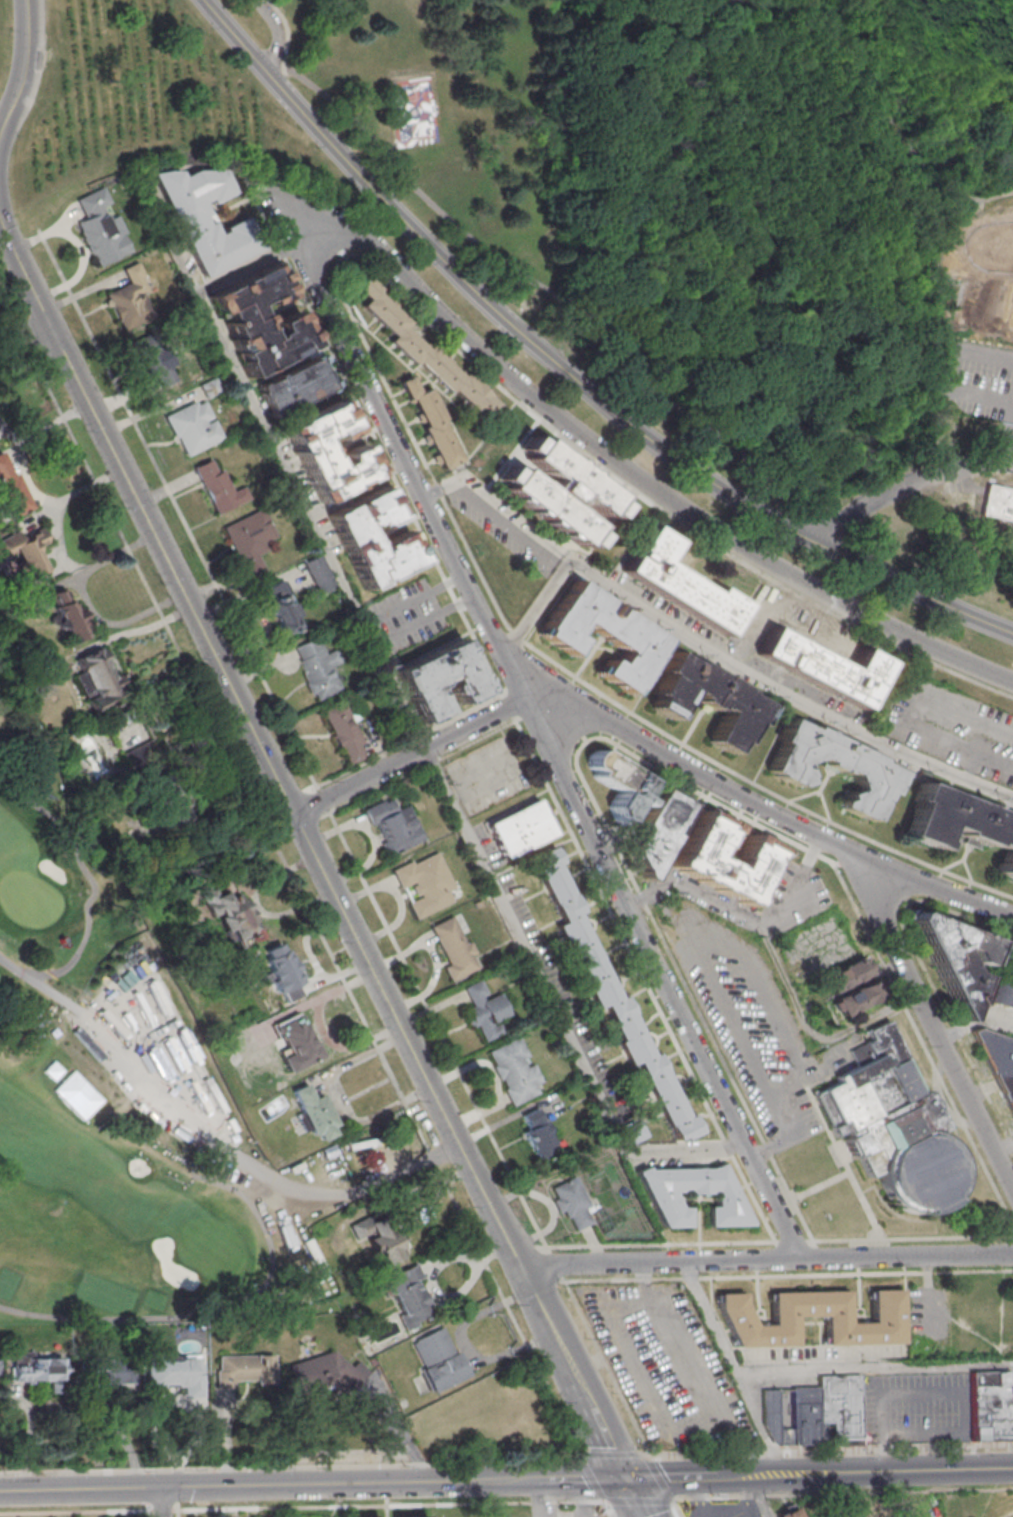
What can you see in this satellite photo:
road: (285, 30)
road: (277, 37)
road: (23, 67)
park: (414, 108)
road: (896, 126)
road: (364, 156)
building: (188, 224)
road: (0, 228)
park: (639, 228)
building: (99, 229)
road: (295, 246)
road: (77, 247)
road: (238, 272)
building: (129, 299)
road: (555, 308)
building: (257, 320)
road: (25, 330)
building: (658, 350)
building: (424, 354)
parking lot: (978, 356)
building: (153, 360)
road: (572, 366)
road: (565, 373)
road: (560, 377)
road: (491, 378)
building: (209, 388)
building: (293, 388)
building: (430, 424)
building: (191, 427)
road: (370, 432)
road: (1009, 441)
building: (307, 452)
parking lot: (1010, 460)
road: (281, 465)
road: (26, 478)
road: (903, 486)
road: (649, 487)
building: (218, 488)
road: (355, 489)
building: (10, 490)
building: (558, 492)
building: (998, 503)
road: (498, 505)
road: (147, 522)
parking lot: (502, 530)
building: (351, 539)
building: (249, 541)
road: (57, 545)
building: (26, 549)
building: (318, 575)
building: (677, 585)
road: (88, 601)
road: (411, 601)
building: (281, 608)
building: (67, 612)
parking lot: (405, 616)
road: (421, 622)
road: (134, 631)
road: (516, 635)
building: (601, 635)
road: (732, 665)
building: (317, 668)
building: (824, 670)
building: (98, 675)
building: (436, 681)
building: (706, 700)
road: (508, 706)
building: (344, 730)
parking lot: (952, 730)
road: (546, 746)
road: (653, 753)
road: (643, 760)
building: (146, 765)
building: (832, 767)
parking lot: (485, 776)
building: (616, 784)
road: (759, 785)
building: (959, 825)
building: (391, 826)
building: (518, 830)
building: (655, 832)
road: (346, 844)
building: (694, 858)
building: (424, 884)
road: (295, 889)
park: (28, 899)
parking lot: (793, 899)
building: (244, 921)
road: (528, 947)
building: (452, 949)
building: (951, 957)
road: (698, 959)
road: (778, 968)
building: (284, 972)
road: (927, 976)
building: (843, 977)
road: (643, 979)
building: (1001, 992)
building: (609, 996)
building: (853, 1001)
building: (483, 1011)
road: (974, 1022)
road: (930, 1023)
parking lot: (753, 1027)
road: (406, 1041)
building: (297, 1043)
building: (997, 1063)
building: (513, 1071)
park: (106, 1098)
building: (314, 1112)
building: (894, 1125)
building: (537, 1136)
road: (685, 1149)
road: (1004, 1149)
building: (341, 1169)
building: (658, 1195)
building: (569, 1202)
park: (119, 1219)
building: (381, 1238)
road: (908, 1239)
road: (788, 1242)
road: (660, 1245)
park: (212, 1247)
road: (766, 1259)
road: (787, 1274)
building: (408, 1295)
building: (885, 1318)
building: (438, 1358)
parking lot: (666, 1364)
road: (733, 1367)
building: (36, 1369)
building: (242, 1369)
road: (874, 1369)
building: (111, 1370)
road: (574, 1371)
building: (325, 1372)
building: (176, 1373)
building: (993, 1404)
building: (842, 1409)
building: (808, 1415)
building: (777, 1418)
road: (405, 1431)
road: (913, 1435)
road: (31, 1438)
road: (830, 1450)
road: (619, 1455)
road: (295, 1466)
road: (862, 1471)
road: (670, 1476)
traffic signals: (627, 1477)
road: (582, 1478)
road: (473, 1479)
road: (596, 1479)
road: (661, 1480)
road: (204, 1485)
road: (843, 1491)
road: (748, 1495)
road: (698, 1496)
road: (538, 1497)
road: (636, 1497)
road: (759, 1497)
road: (643, 1500)
road: (161, 1501)
road: (393, 1504)
road: (610, 1508)
road: (676, 1508)
road: (165, 1509)
road: (76, 1511)
building: (788, 1512)
road: (147, 1513)
road: (177, 1513)
road: (1008, 1514)
parking lot: (759, 1516)

